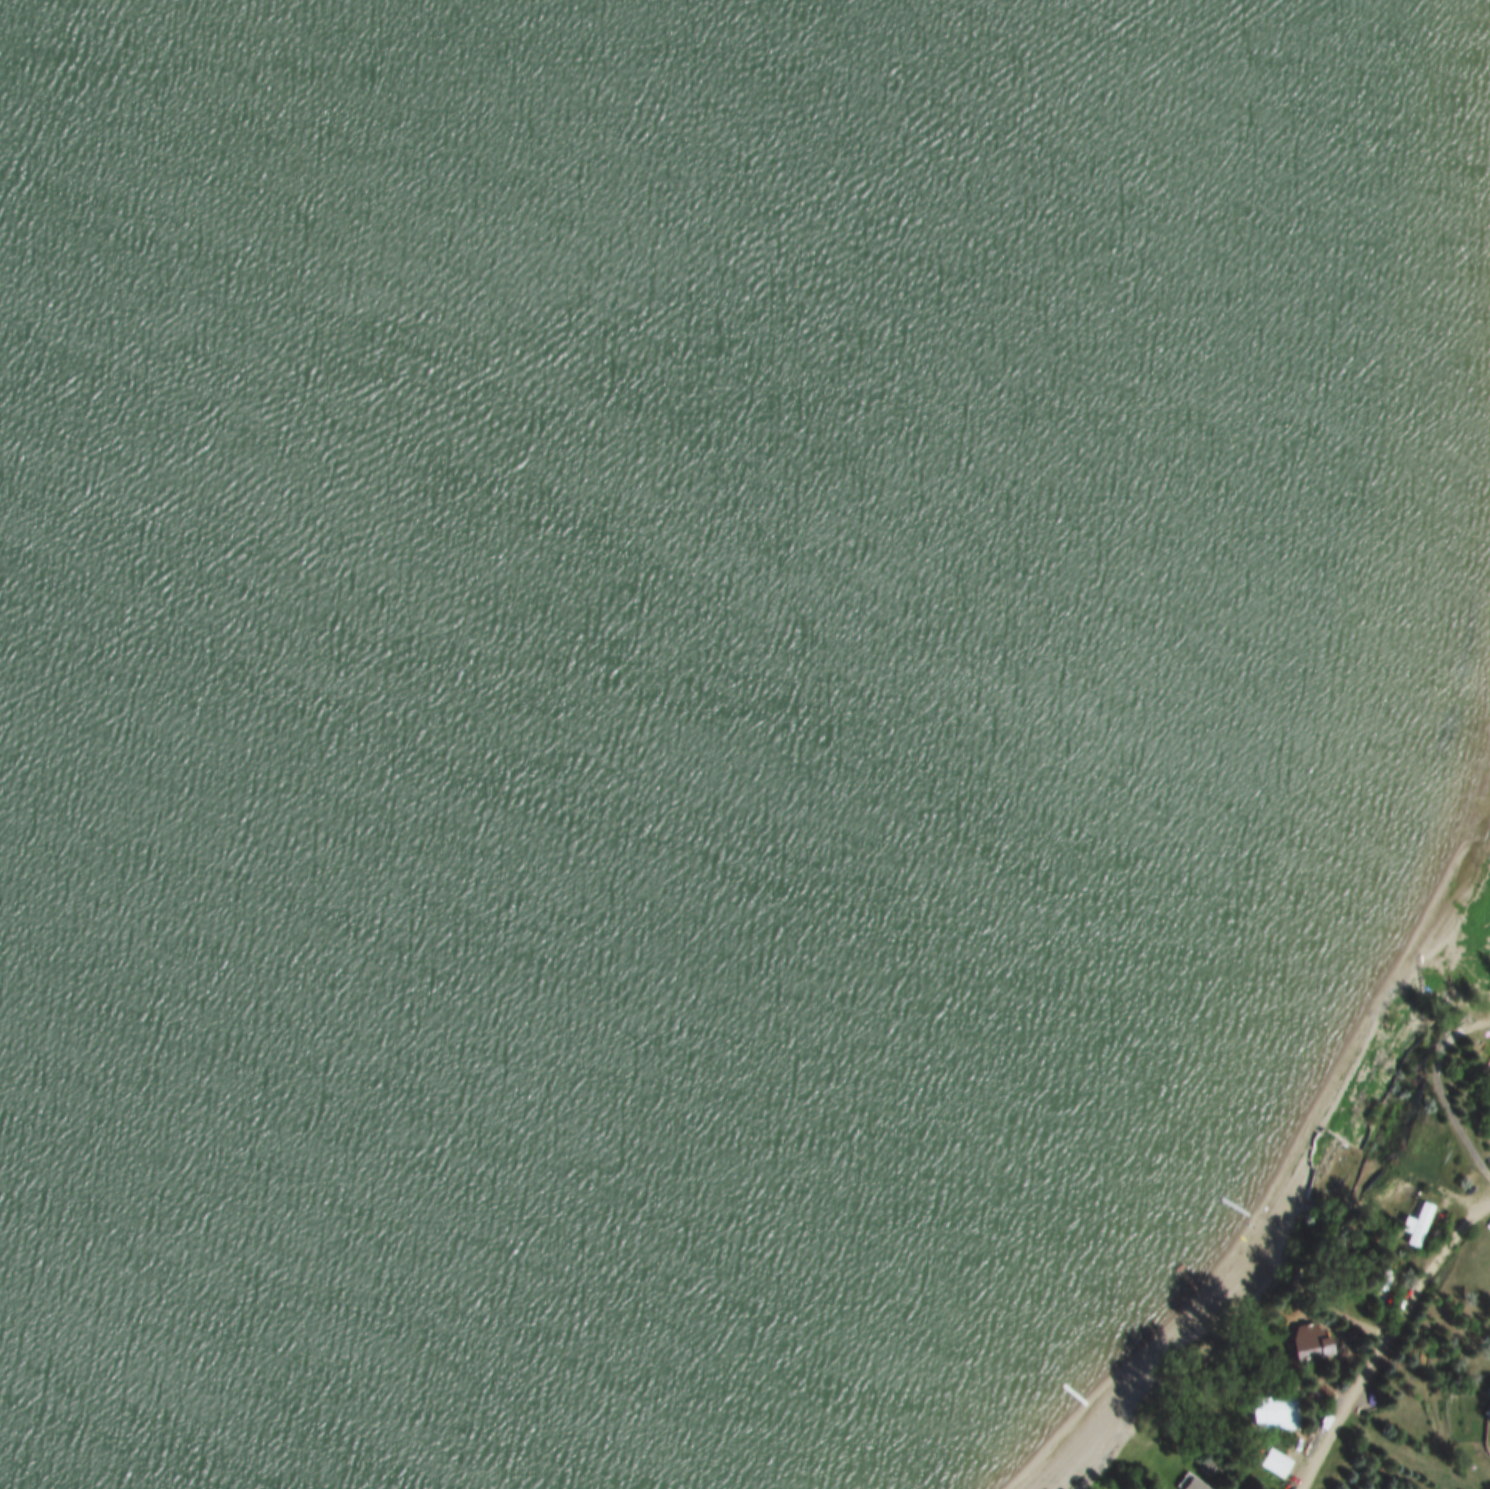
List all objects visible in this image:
building: (1488, 1071)
road: (1439, 1101)
building: (1414, 1224)
building: (1307, 1342)
road: (1389, 1344)
building: (1271, 1412)
building: (1273, 1462)
building: (1205, 1465)
building: (1194, 1484)

